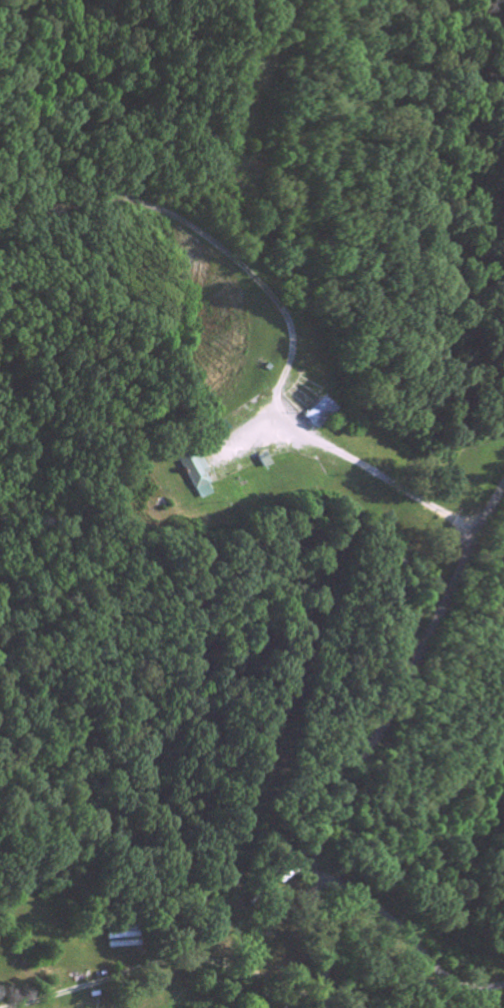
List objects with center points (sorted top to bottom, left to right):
road: (278, 410)
building: (317, 415)
building: (193, 475)
road: (374, 736)
road: (406, 936)
road: (174, 963)

